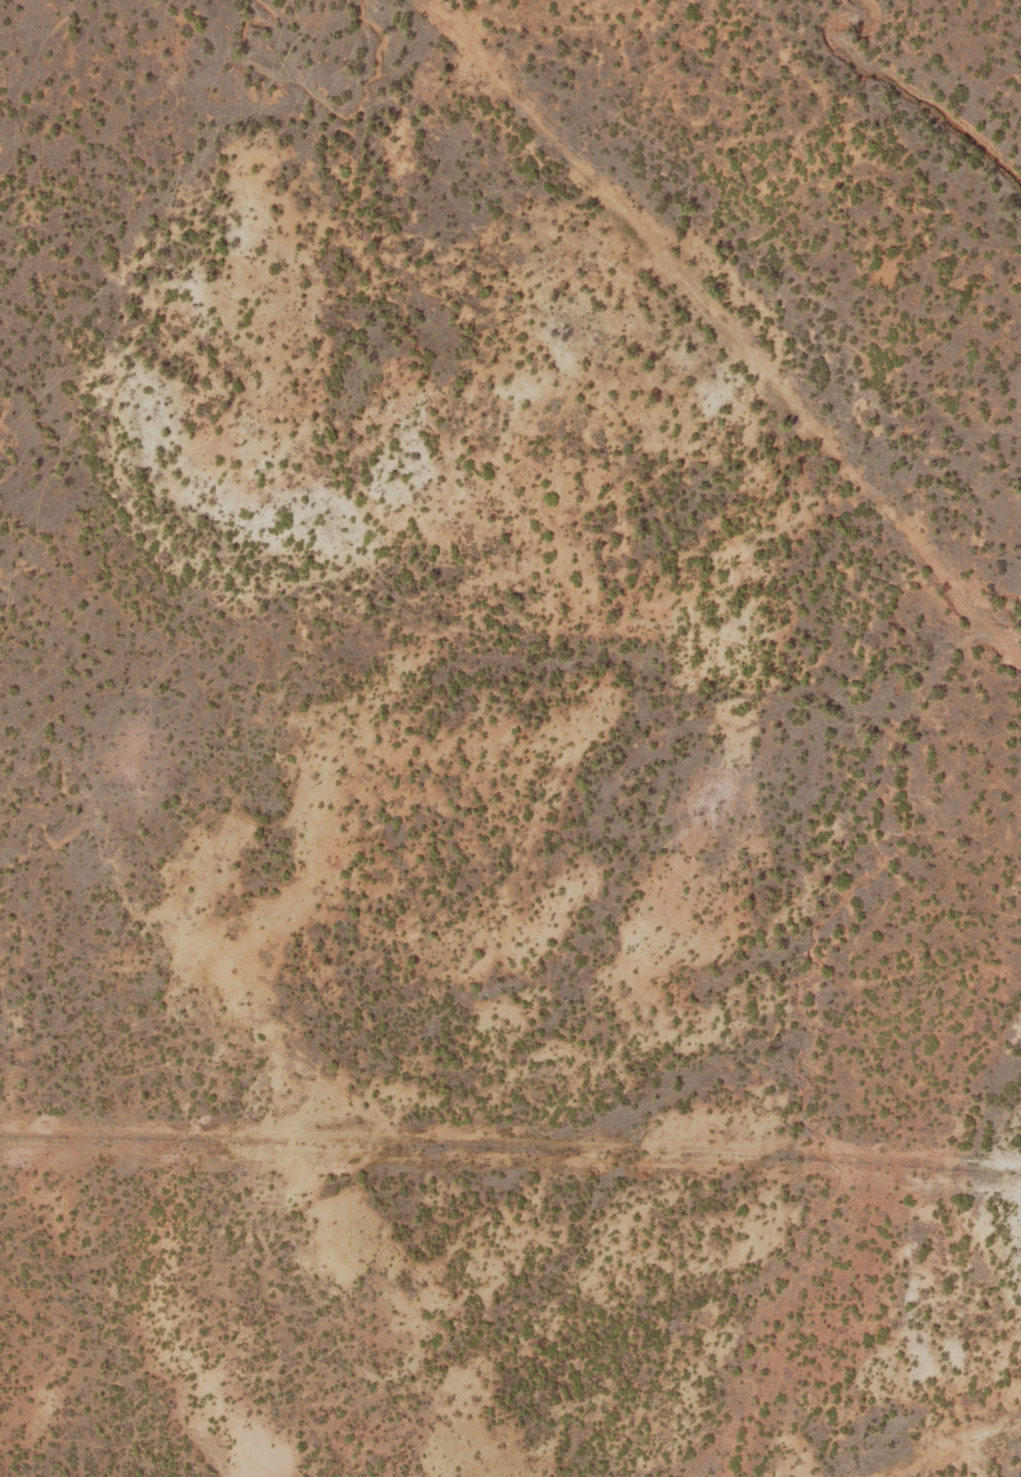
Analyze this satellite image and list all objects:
road: (725, 323)
road: (510, 1154)

